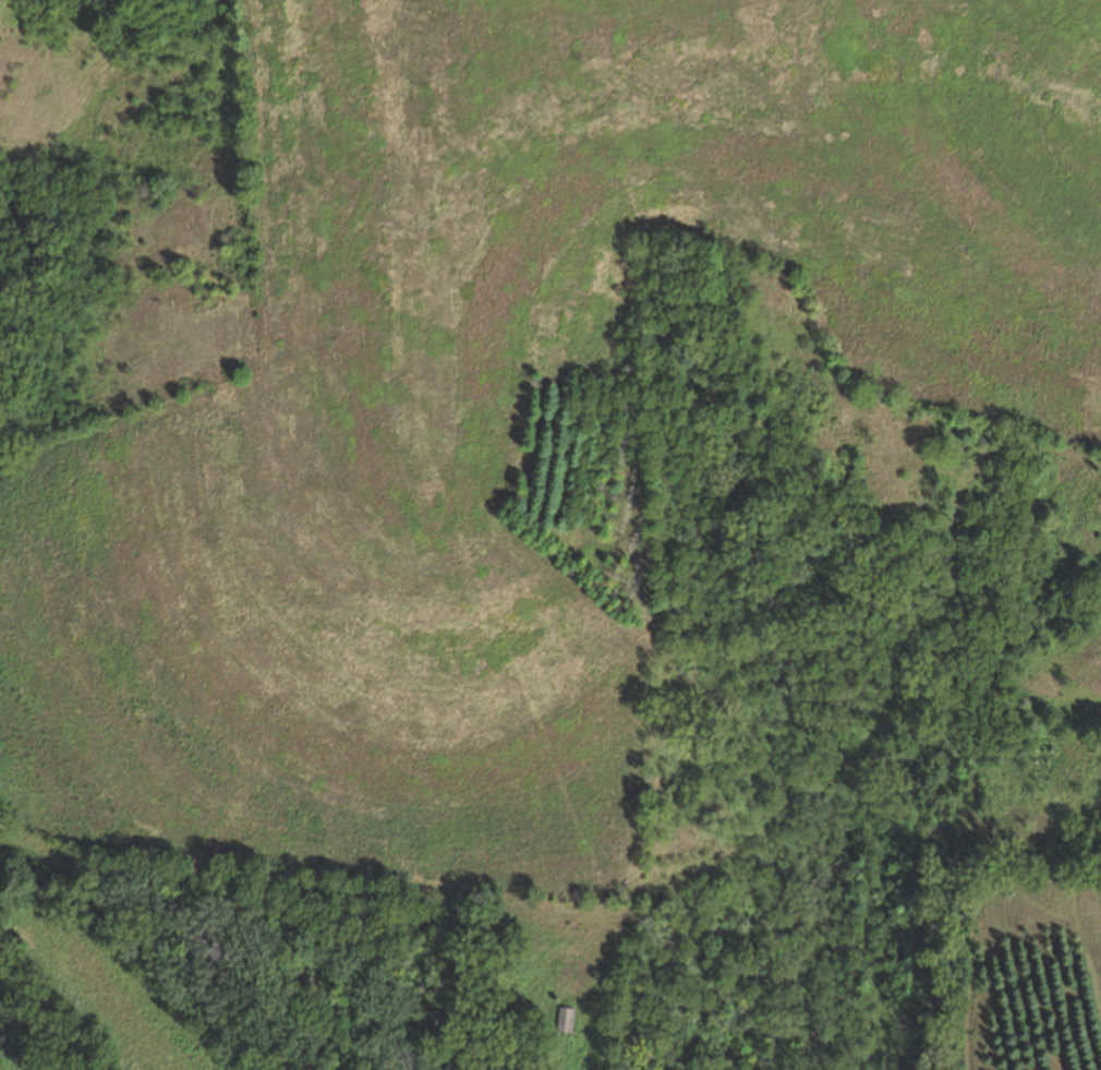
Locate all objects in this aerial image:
building: (567, 1020)

